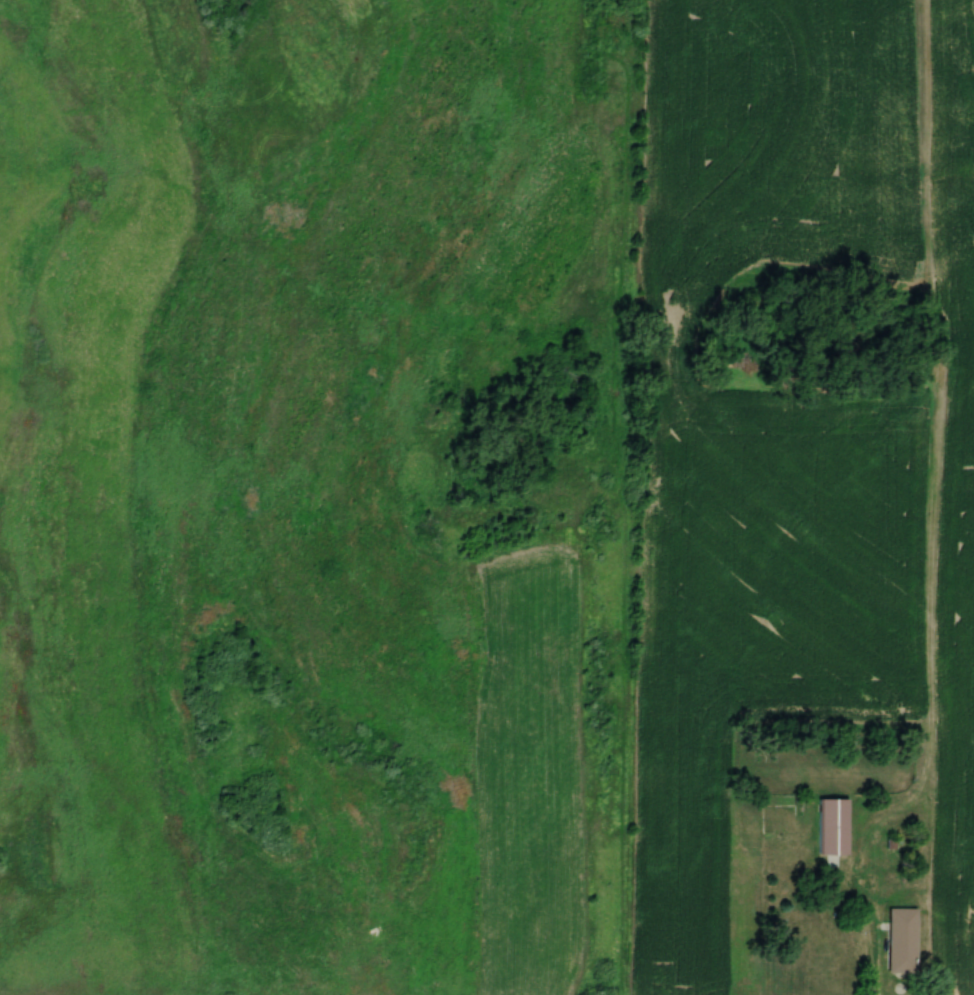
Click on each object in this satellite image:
building: (838, 825)
building: (905, 939)

